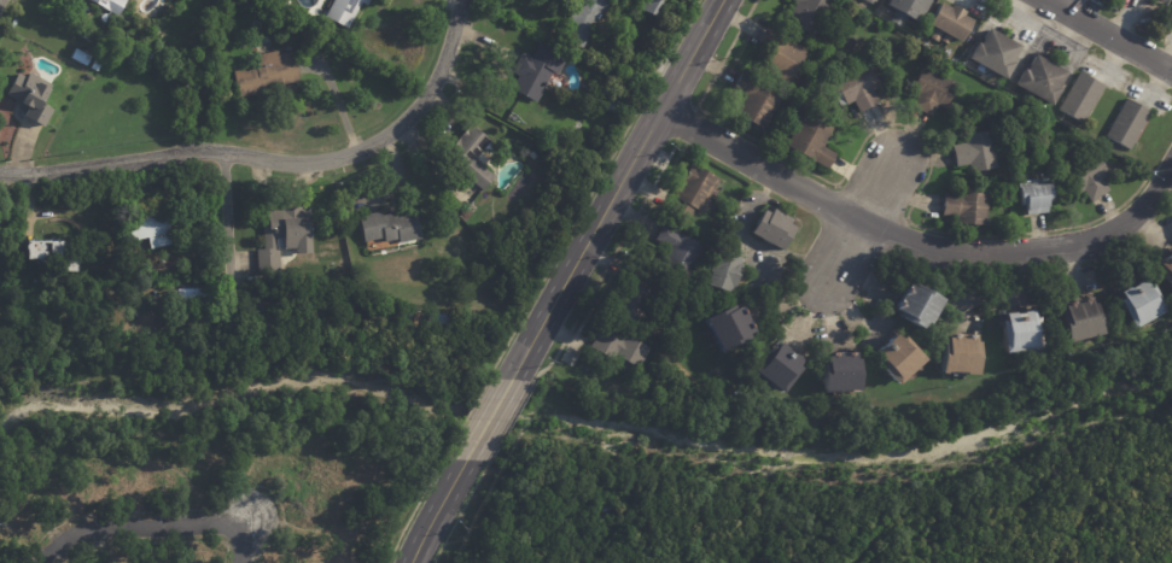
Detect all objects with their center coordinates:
building: (1161, 0)
building: (216, 1)
building: (241, 1)
building: (869, 1)
building: (876, 1)
building: (105, 5)
building: (655, 6)
building: (338, 10)
building: (906, 10)
building: (811, 14)
building: (589, 20)
building: (951, 23)
road: (1108, 35)
building: (109, 51)
building: (999, 53)
building: (74, 55)
building: (785, 55)
building: (91, 64)
building: (531, 70)
building: (261, 71)
building: (91, 77)
building: (1046, 78)
building: (862, 87)
building: (937, 90)
building: (28, 94)
building: (616, 99)
building: (1081, 99)
building: (757, 101)
road: (903, 124)
road: (684, 125)
building: (1129, 125)
building: (815, 140)
building: (979, 151)
building: (474, 157)
road: (274, 162)
building: (1090, 177)
road: (879, 184)
road: (593, 187)
road: (616, 188)
building: (689, 193)
building: (1039, 199)
road: (869, 204)
building: (972, 206)
road: (226, 221)
building: (157, 228)
building: (390, 228)
building: (771, 229)
building: (285, 237)
road: (919, 246)
building: (45, 252)
building: (675, 254)
road: (840, 257)
road: (607, 264)
building: (1166, 270)
building: (721, 271)
building: (197, 298)
building: (629, 303)
building: (1133, 303)
building: (911, 304)
building: (272, 319)
building: (1074, 319)
building: (721, 327)
building: (1014, 330)
building: (616, 348)
building: (954, 353)
building: (893, 357)
building: (772, 365)
building: (836, 373)
road: (465, 418)
road: (488, 418)
road: (509, 420)
road: (185, 510)
road: (413, 510)
road: (437, 510)
road: (459, 511)
road: (135, 528)
road: (148, 541)
road: (243, 545)

